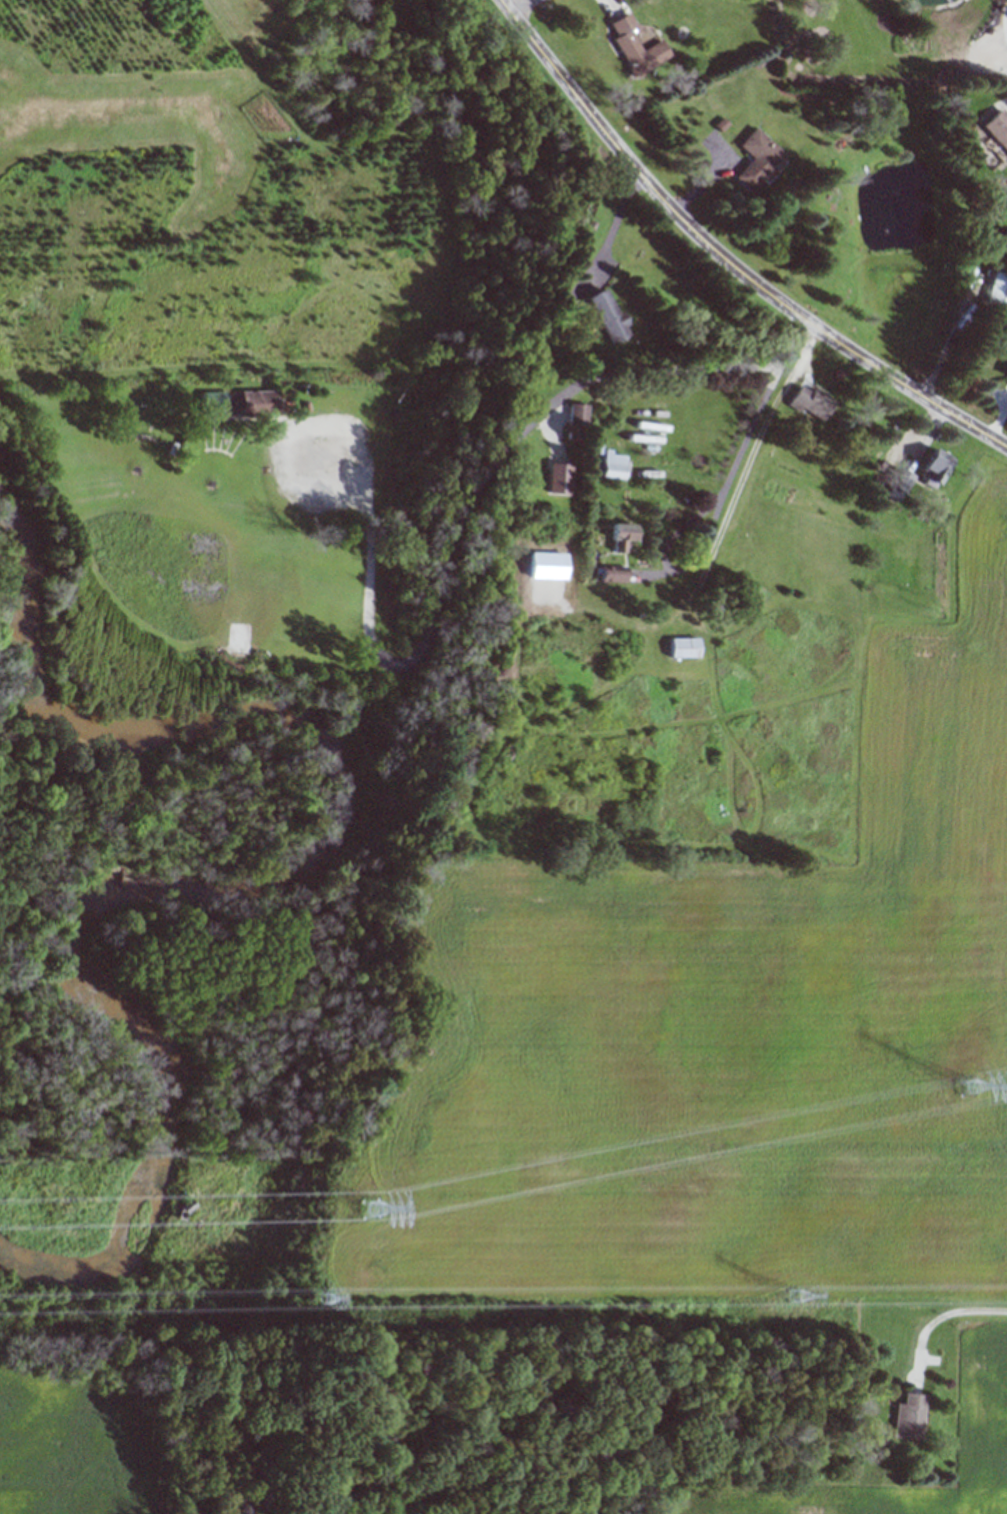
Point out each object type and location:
building: (634, 47)
building: (998, 128)
building: (759, 159)
road: (610, 229)
road: (724, 256)
building: (998, 289)
building: (608, 316)
building: (1006, 375)
building: (256, 402)
building: (810, 403)
building: (580, 414)
building: (615, 465)
building: (935, 466)
building: (902, 480)
building: (620, 535)
building: (611, 573)
building: (683, 647)
river: (251, 703)
power tower: (967, 1087)
river: (162, 1143)
power tower: (370, 1210)
power tower: (792, 1295)
power tower: (317, 1298)
road: (940, 1317)

